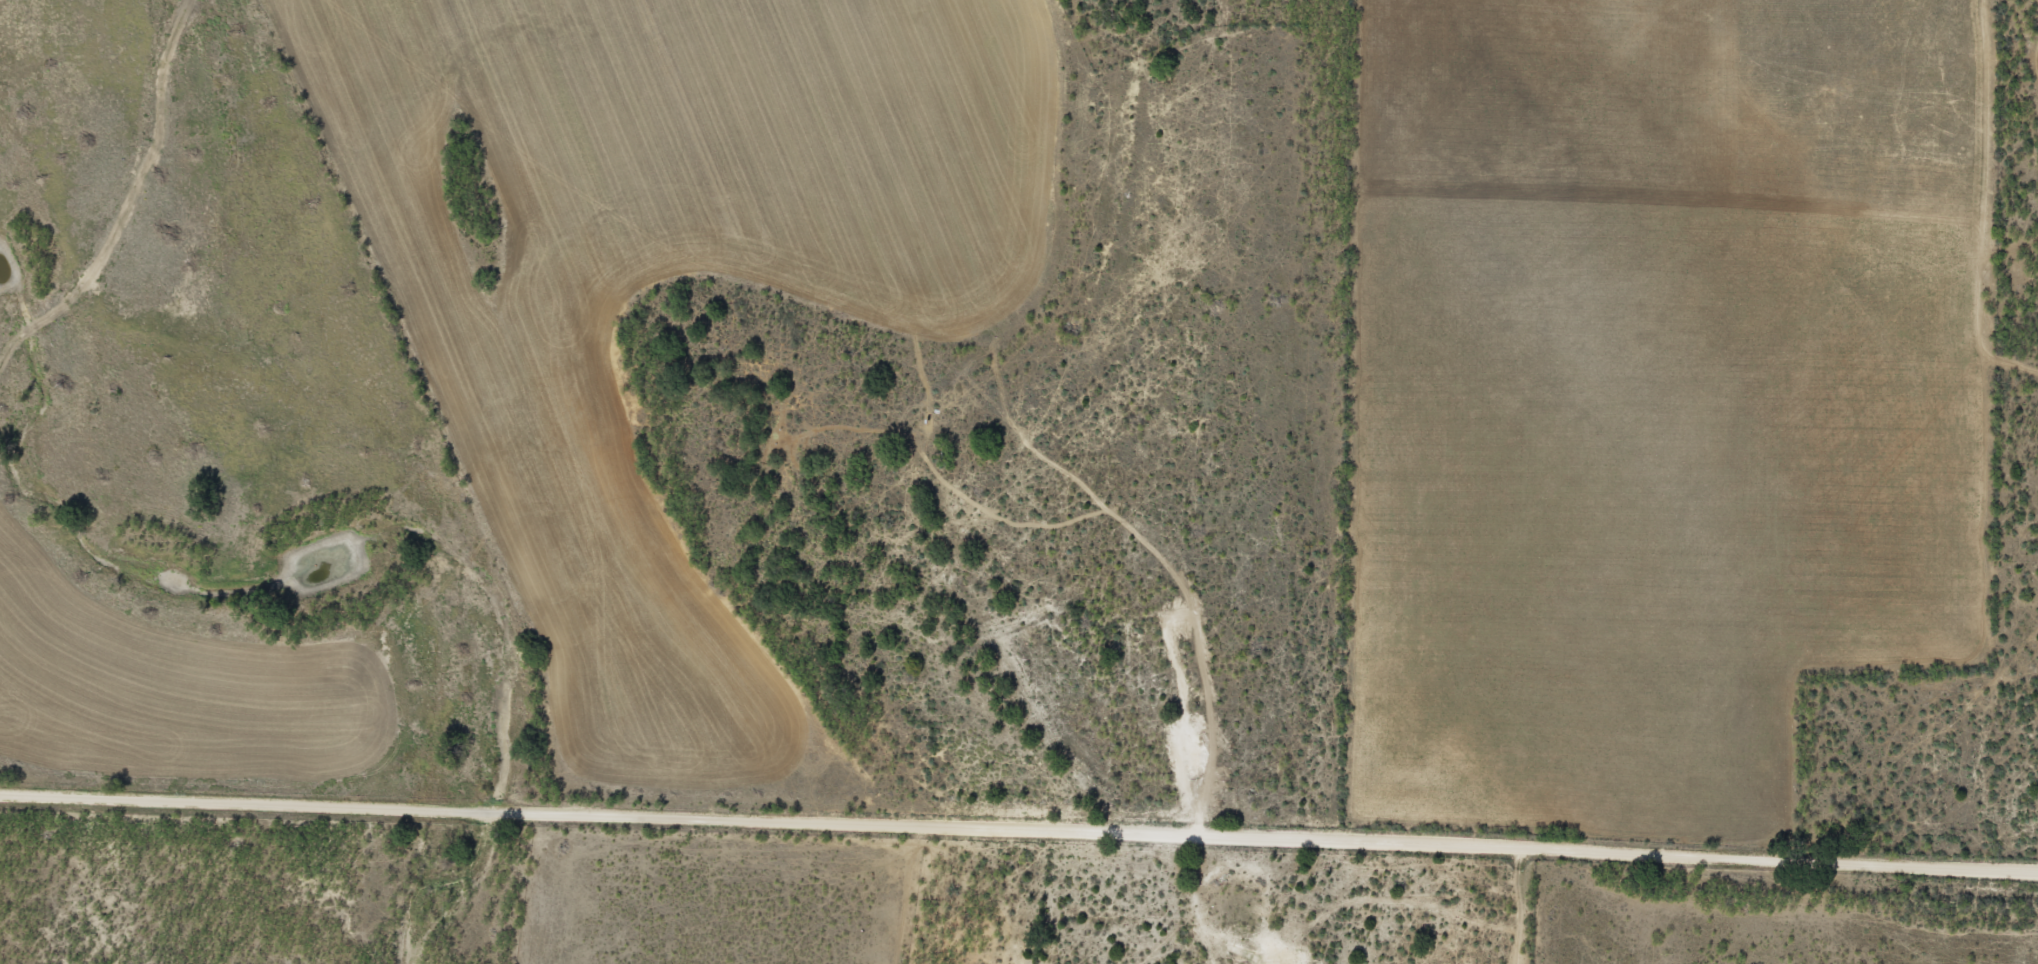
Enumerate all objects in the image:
road: (1019, 833)
road: (1520, 909)

